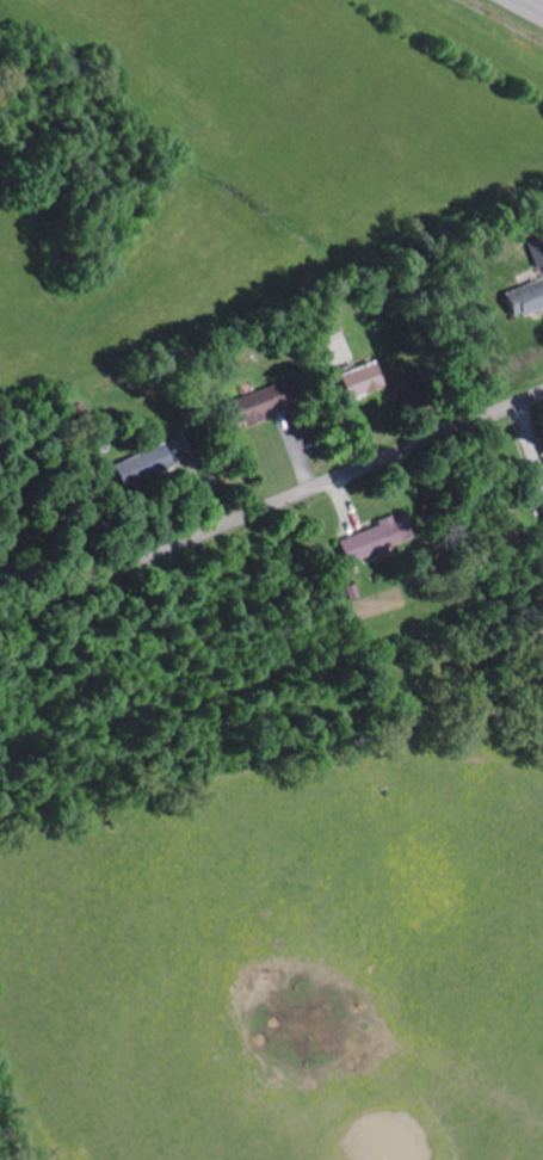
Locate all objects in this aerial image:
road: (532, 5)
building: (537, 251)
building: (524, 297)
building: (328, 322)
building: (358, 380)
building: (252, 405)
building: (143, 465)
road: (267, 467)
building: (541, 502)
building: (374, 537)

